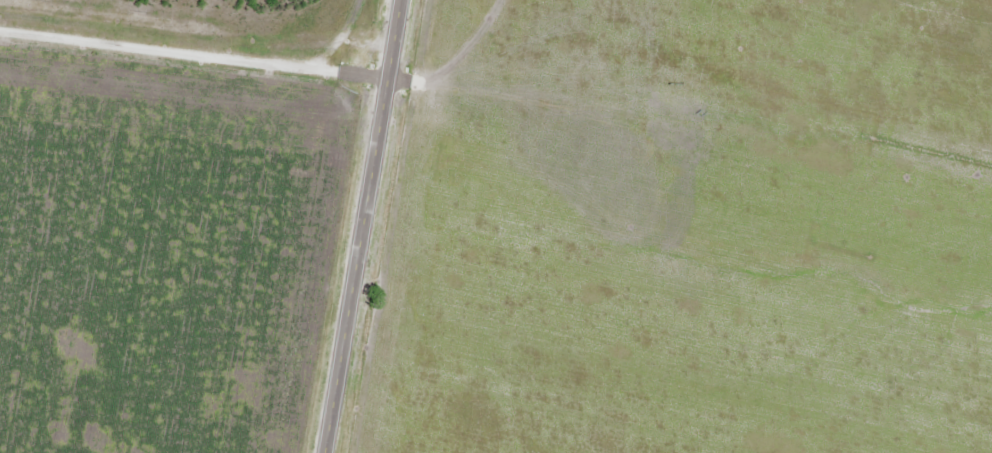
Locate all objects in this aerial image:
road: (192, 64)
road: (361, 226)

